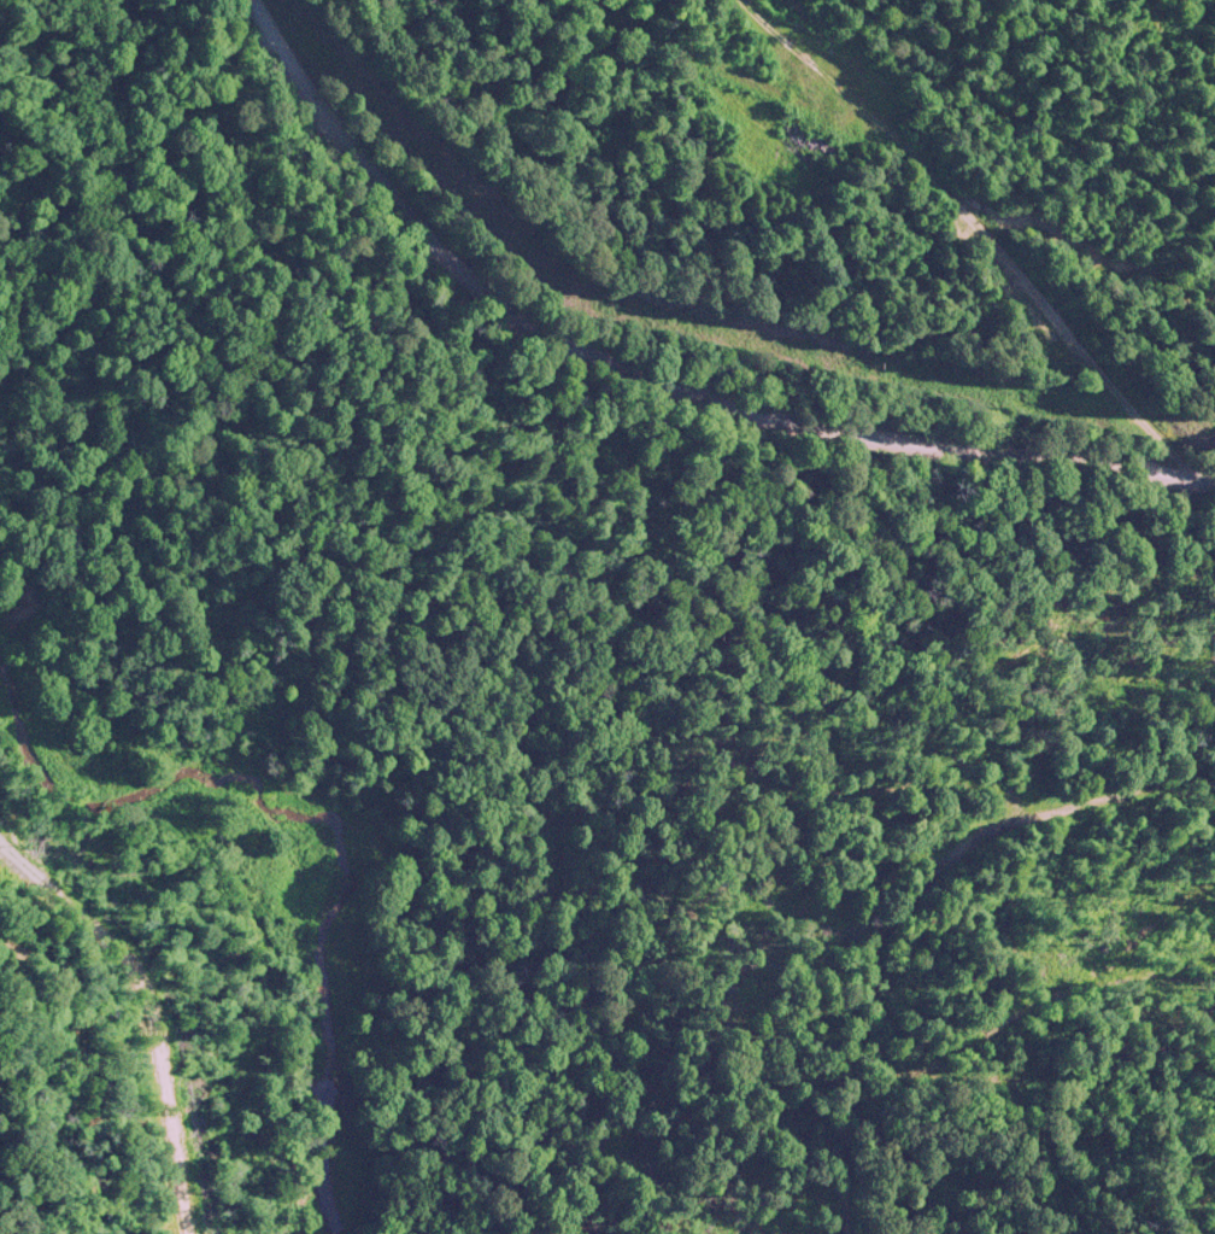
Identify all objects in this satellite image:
road: (659, 376)
railway: (700, 729)
railway: (894, 900)
railway: (140, 1006)

